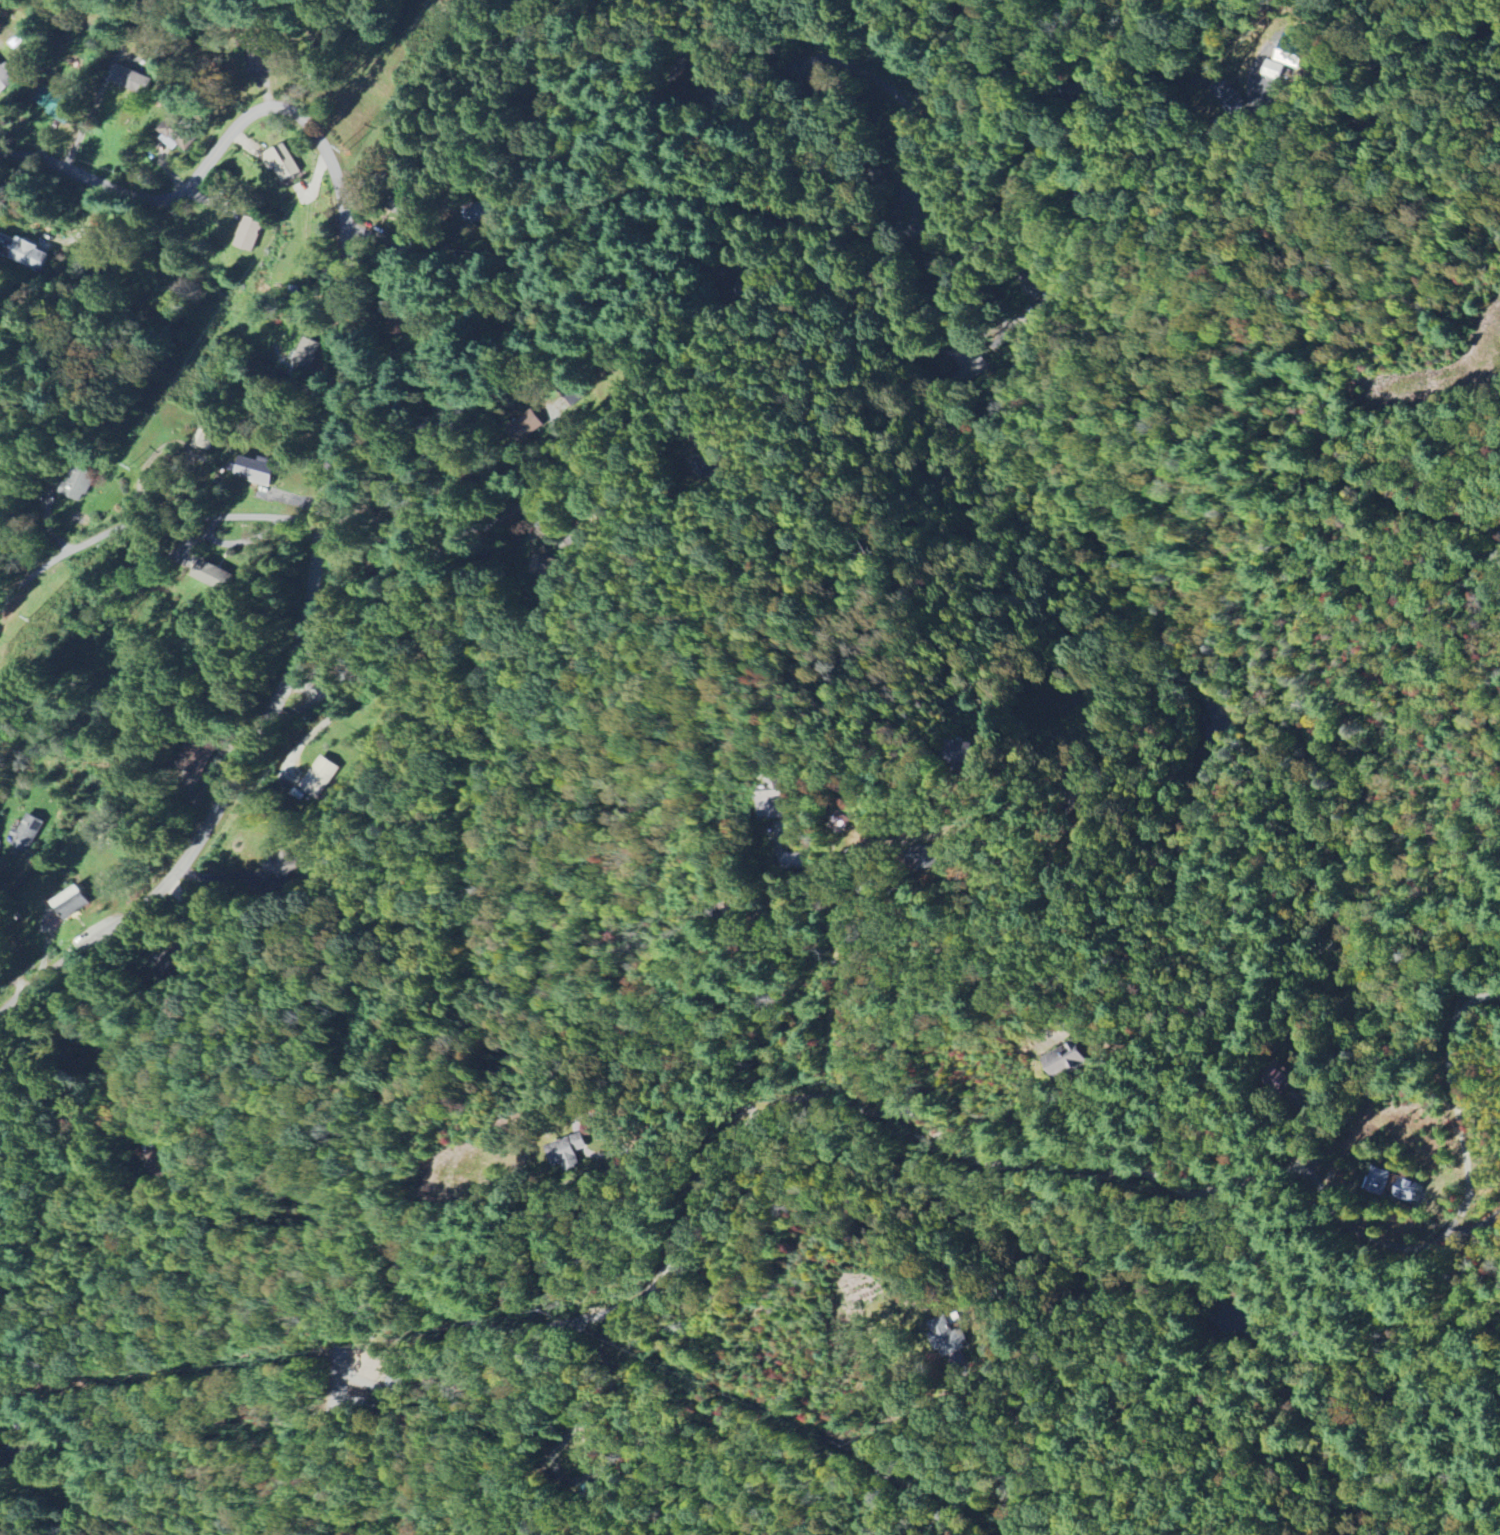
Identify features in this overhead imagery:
building: (1290, 50)
road: (676, 59)
building: (260, 64)
building: (1270, 69)
building: (129, 79)
building: (1228, 98)
building: (60, 113)
road: (84, 124)
building: (173, 135)
power tower: (344, 147)
road: (206, 160)
building: (279, 162)
building: (412, 212)
building: (247, 234)
road: (882, 237)
building: (23, 252)
building: (307, 353)
building: (974, 362)
road: (345, 368)
road: (704, 383)
building: (207, 438)
building: (254, 471)
building: (76, 484)
road: (144, 524)
building: (548, 568)
building: (210, 575)
road: (415, 581)
road: (309, 601)
power tower: (35, 619)
road: (302, 688)
road: (294, 708)
road: (316, 730)
building: (954, 754)
building: (197, 758)
building: (318, 777)
building: (770, 805)
building: (837, 823)
building: (24, 833)
building: (0, 842)
building: (287, 867)
road: (172, 873)
building: (69, 904)
road: (17, 946)
building: (1063, 1061)
building: (567, 1151)
road: (712, 1151)
building: (1378, 1181)
building: (1406, 1190)
road: (1469, 1193)
building: (949, 1343)
road: (863, 1468)

